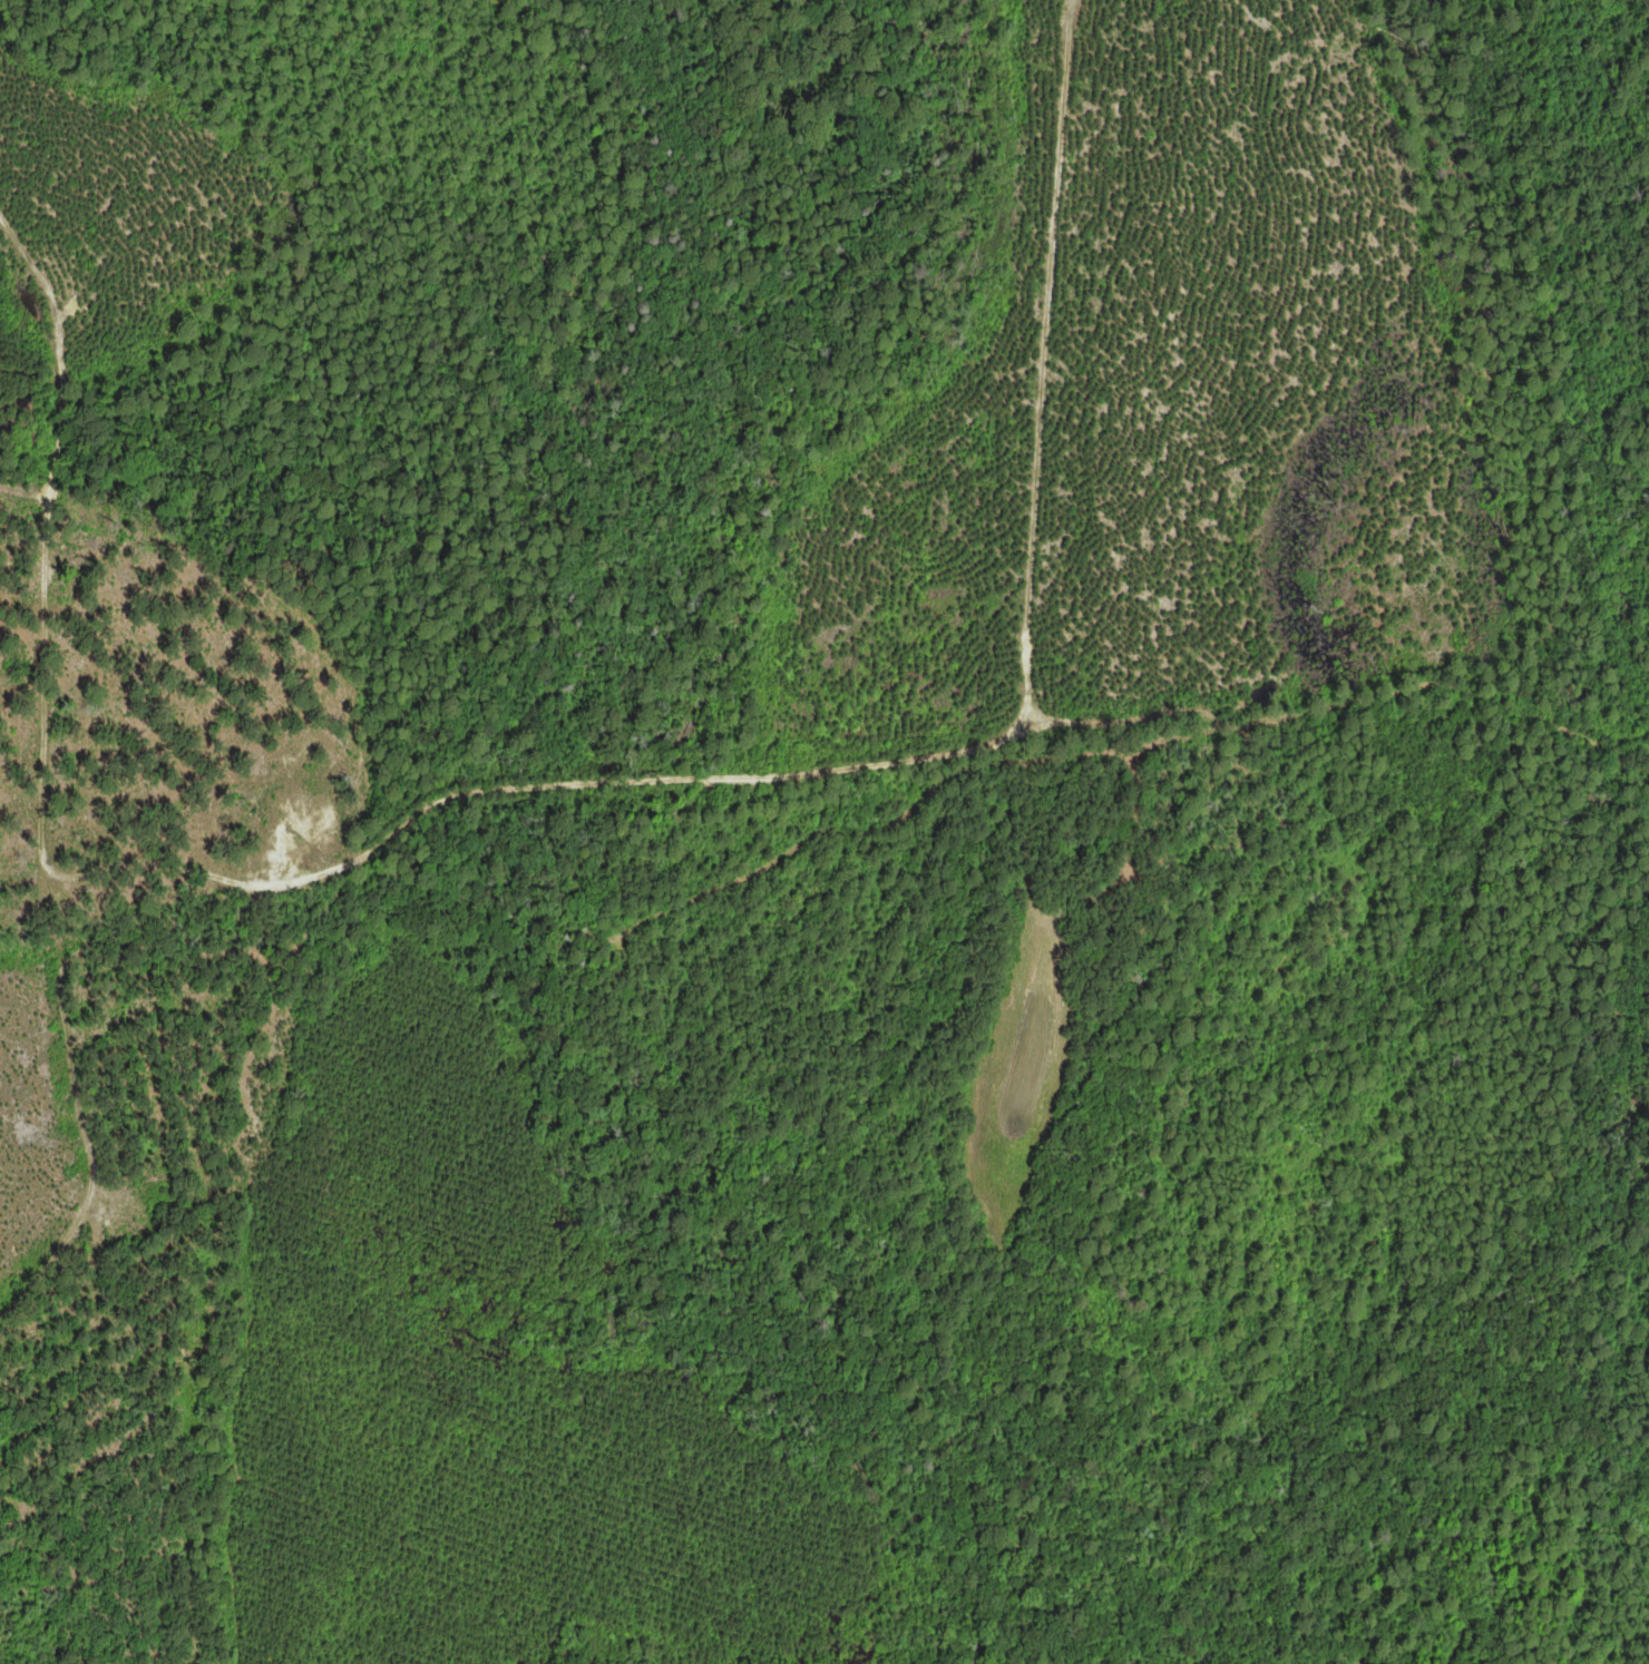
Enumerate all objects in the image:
park: (1409, 1038)

